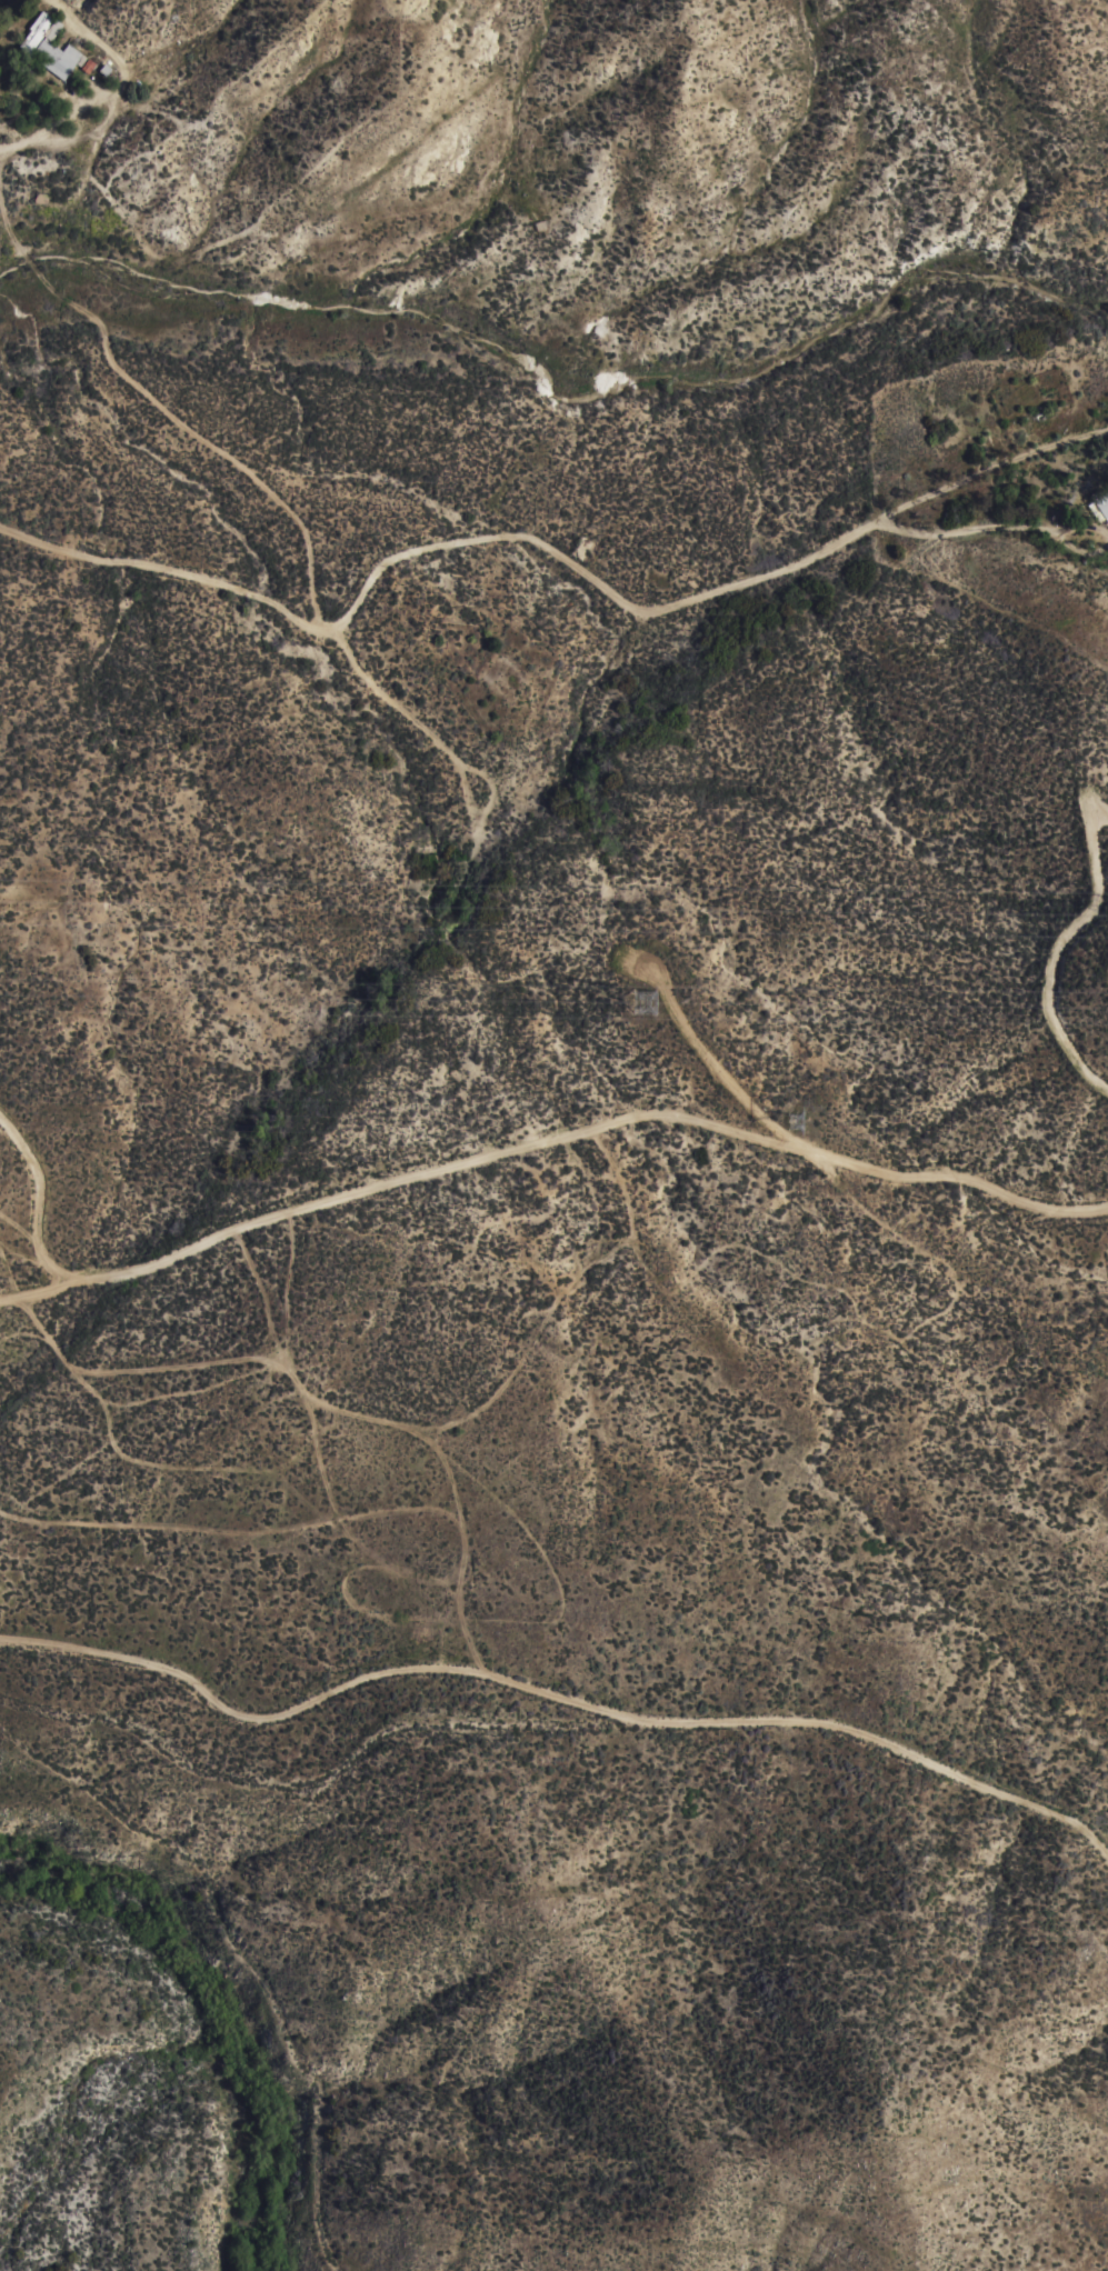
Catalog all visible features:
building: (40, 31)
building: (59, 58)
road: (108, 90)
road: (994, 466)
building: (1099, 506)
road: (994, 524)
road: (436, 547)
road: (1056, 948)
power tower: (649, 1007)
road: (716, 1054)
power tower: (797, 1122)
road: (550, 1137)
road: (551, 1697)

